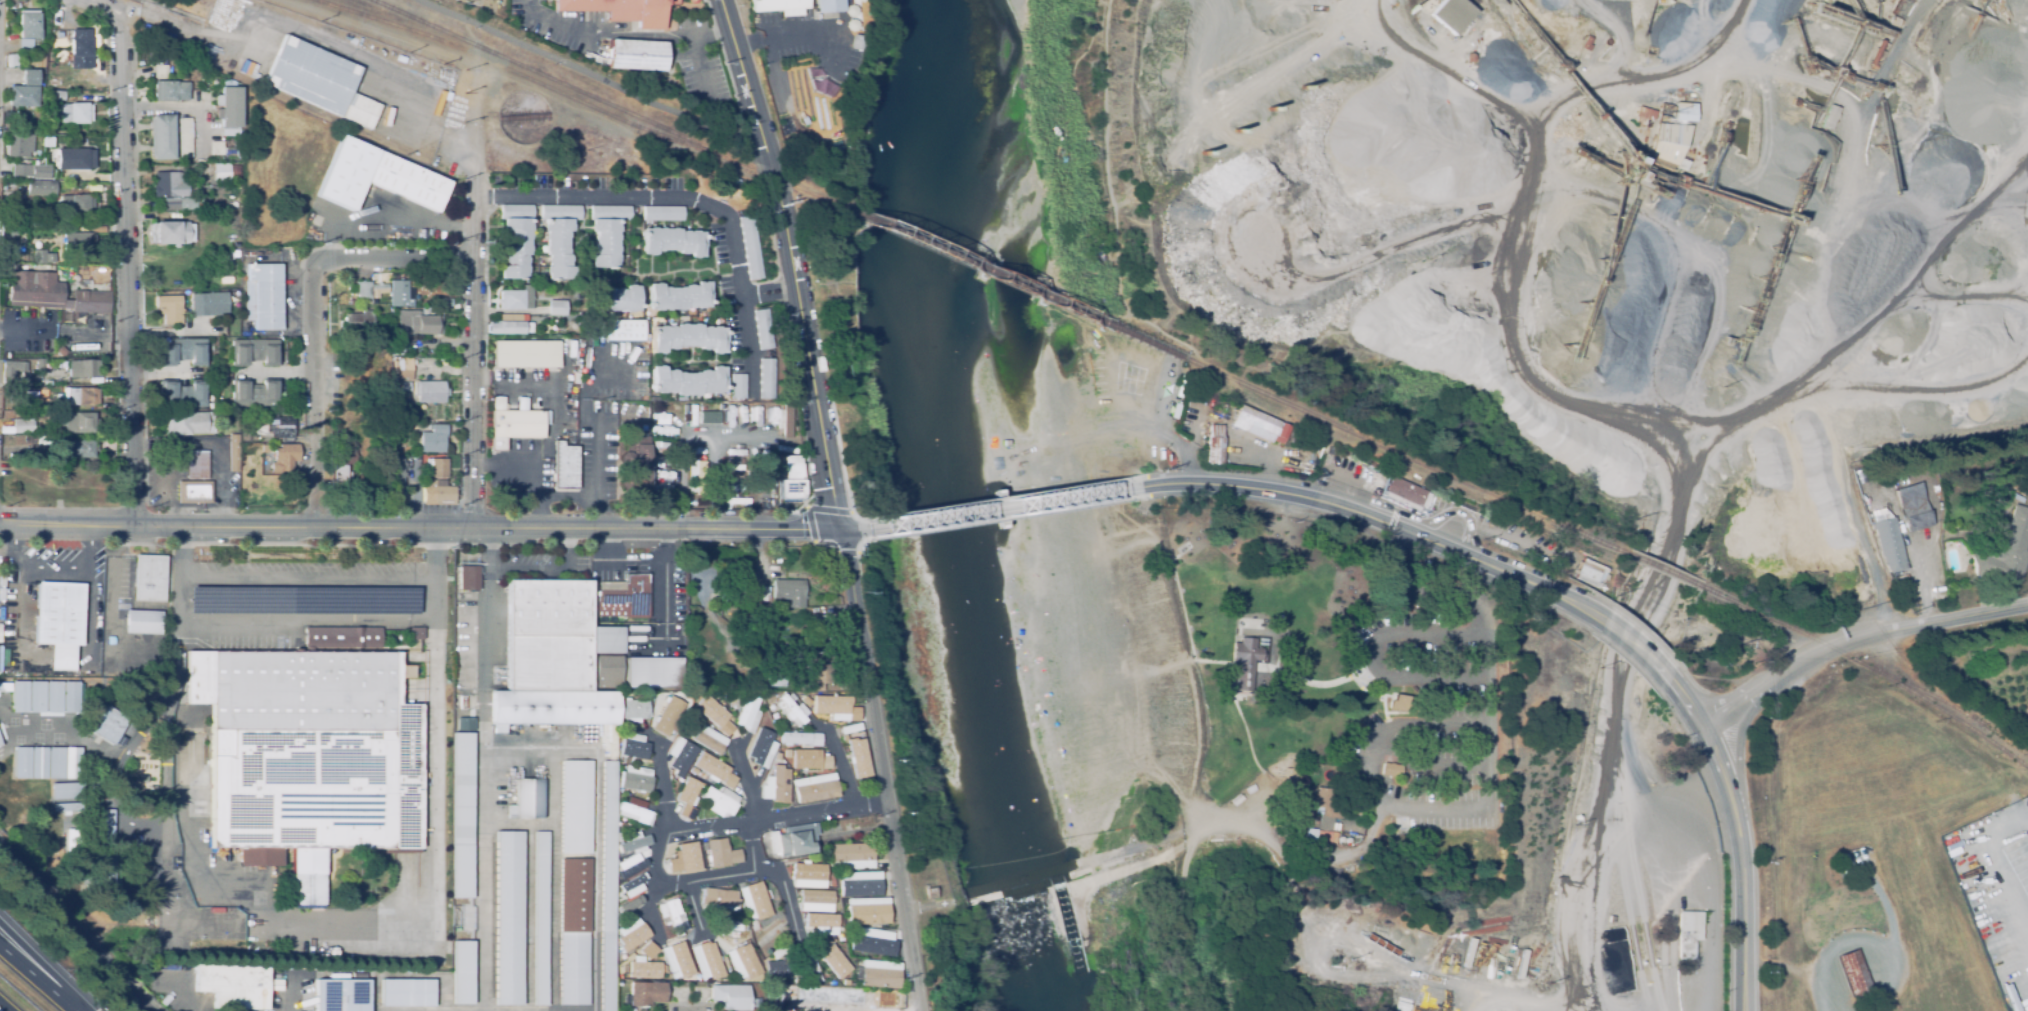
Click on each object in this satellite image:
building: (693, 0)
building: (1890, 1)
road: (104, 5)
building: (847, 5)
building: (780, 6)
building: (829, 6)
building: (621, 10)
building: (1453, 14)
road: (555, 19)
building: (1895, 22)
building: (29, 24)
road: (312, 36)
building: (858, 42)
building: (1586, 42)
building: (44, 46)
building: (82, 49)
building: (637, 55)
building: (171, 56)
building: (1469, 57)
building: (35, 59)
building: (12, 60)
building: (160, 71)
road: (588, 75)
railway: (524, 76)
building: (30, 77)
building: (320, 81)
building: (819, 82)
building: (171, 90)
building: (57, 95)
building: (24, 96)
railway: (607, 104)
building: (229, 106)
road: (180, 109)
building: (1685, 112)
building: (75, 113)
building: (1643, 115)
building: (1831, 117)
building: (8, 124)
building: (163, 136)
building: (185, 137)
building: (20, 145)
building: (1669, 147)
building: (216, 148)
building: (75, 159)
building: (32, 171)
building: (222, 171)
building: (235, 171)
building: (377, 177)
building: (226, 183)
building: (170, 184)
building: (42, 188)
road: (682, 199)
building: (185, 201)
building: (77, 204)
road: (401, 207)
building: (521, 212)
building: (561, 212)
building: (611, 212)
building: (663, 212)
building: (9, 230)
building: (171, 232)
building: (673, 241)
building: (78, 242)
building: (605, 242)
building: (751, 247)
building: (516, 248)
building: (558, 248)
building: (235, 253)
building: (44, 257)
road: (395, 260)
road: (789, 263)
road: (129, 268)
railway: (1014, 282)
building: (380, 287)
building: (364, 290)
building: (53, 293)
building: (401, 294)
road: (767, 295)
building: (263, 296)
building: (679, 296)
building: (614, 297)
building: (517, 298)
road: (472, 299)
park: (835, 300)
building: (353, 302)
building: (449, 302)
building: (209, 303)
building: (558, 308)
building: (170, 309)
building: (357, 322)
building: (417, 323)
building: (510, 325)
building: (764, 329)
road: (23, 332)
building: (627, 333)
building: (382, 335)
building: (689, 337)
building: (399, 348)
building: (61, 351)
building: (184, 352)
building: (255, 352)
building: (526, 354)
building: (83, 368)
building: (405, 368)
building: (20, 369)
road: (273, 373)
road: (168, 374)
building: (574, 376)
building: (767, 377)
building: (687, 381)
building: (50, 383)
building: (738, 386)
building: (405, 387)
building: (430, 391)
building: (255, 393)
road: (1601, 393)
building: (183, 394)
building: (82, 396)
road: (312, 396)
building: (498, 403)
building: (709, 417)
building: (786, 419)
building: (79, 422)
building: (189, 422)
building: (25, 425)
building: (1261, 425)
building: (279, 426)
building: (514, 426)
building: (1296, 436)
road: (1167, 437)
building: (433, 439)
road: (217, 446)
building: (1215, 446)
building: (82, 449)
building: (233, 449)
building: (345, 455)
building: (286, 457)
building: (1978, 457)
railway: (1409, 458)
building: (637, 464)
building: (197, 465)
road: (543, 465)
building: (565, 466)
building: (436, 468)
building: (1884, 472)
building: (340, 474)
building: (1860, 475)
building: (698, 477)
building: (790, 477)
parking lot: (1360, 477)
building: (398, 478)
road: (1816, 487)
building: (1405, 491)
building: (194, 492)
building: (438, 493)
road: (597, 497)
building: (2017, 499)
building: (1402, 502)
building: (1914, 507)
river: (949, 508)
road: (1008, 508)
road: (1307, 508)
road: (1358, 513)
building: (1880, 514)
parking lot: (1458, 518)
road: (421, 529)
road: (857, 530)
road: (1664, 536)
building: (1890, 543)
road: (87, 546)
building: (2007, 551)
parking lot: (528, 554)
road: (30, 563)
road: (529, 565)
building: (1591, 572)
railway: (1668, 572)
building: (150, 578)
building: (469, 578)
road: (307, 582)
road: (657, 583)
building: (790, 592)
building: (744, 594)
building: (624, 597)
building: (1451, 598)
building: (748, 606)
road: (110, 612)
road: (87, 614)
building: (59, 621)
building: (141, 622)
road: (302, 622)
building: (750, 627)
building: (546, 628)
building: (820, 629)
road: (1620, 630)
building: (416, 633)
building: (343, 637)
road: (1859, 640)
building: (0, 655)
building: (1246, 662)
railway: (1868, 670)
building: (608, 672)
building: (655, 672)
building: (774, 674)
building: (751, 678)
building: (818, 678)
road: (1329, 683)
building: (5, 686)
building: (623, 694)
building: (45, 696)
building: (810, 699)
building: (1400, 703)
building: (836, 706)
building: (558, 707)
building: (635, 710)
building: (794, 710)
building: (714, 712)
building: (749, 714)
building: (2026, 714)
building: (670, 718)
building: (468, 720)
building: (108, 722)
parking lot: (1432, 722)
park: (1182, 724)
building: (802, 737)
building: (620, 738)
building: (708, 739)
building: (0, 743)
building: (0, 744)
building: (635, 747)
building: (764, 750)
road: (543, 753)
building: (787, 753)
building: (860, 755)
building: (304, 756)
building: (779, 756)
building: (682, 757)
building: (810, 759)
road: (839, 762)
building: (47, 763)
road: (1743, 763)
road: (1450, 766)
building: (712, 769)
building: (691, 770)
road: (888, 770)
building: (1392, 770)
building: (636, 779)
building: (777, 785)
road: (482, 787)
building: (816, 788)
building: (67, 790)
building: (689, 798)
building: (527, 799)
building: (720, 801)
building: (1328, 805)
building: (67, 806)
building: (576, 807)
building: (635, 811)
building: (462, 816)
road: (783, 816)
road: (1590, 822)
building: (105, 823)
building: (1335, 826)
road: (691, 828)
building: (1326, 835)
building: (1310, 836)
road: (1744, 836)
building: (72, 840)
building: (794, 840)
building: (634, 842)
building: (721, 853)
building: (852, 854)
building: (683, 859)
building: (1845, 865)
building: (104, 870)
road: (752, 871)
building: (806, 875)
road: (555, 881)
building: (631, 882)
building: (607, 884)
building: (860, 884)
road: (651, 887)
building: (931, 893)
building: (816, 895)
building: (717, 897)
building: (753, 904)
road: (1706, 904)
road: (2003, 908)
building: (741, 910)
building: (870, 914)
building: (674, 916)
building: (509, 917)
building: (541, 918)
building: (821, 919)
building: (1612, 919)
building: (668, 923)
building: (728, 927)
road: (77, 928)
building: (850, 929)
building: (573, 932)
building: (1689, 933)
building: (635, 936)
building: (870, 943)
building: (649, 948)
river: (1050, 952)
building: (716, 958)
building: (748, 958)
building: (676, 960)
building: (708, 960)
building: (833, 961)
building: (807, 965)
building: (645, 968)
building: (778, 968)
road: (39, 970)
building: (463, 972)
building: (881, 974)
building: (1854, 974)
road: (38, 977)
building: (233, 985)
building: (775, 992)
road: (294, 993)
building: (407, 993)
building: (647, 993)
road: (181, 994)
building: (341, 995)
building: (731, 996)
building: (833, 996)
road: (879, 999)
building: (888, 1000)
building: (805, 1003)
road: (4, 1007)

